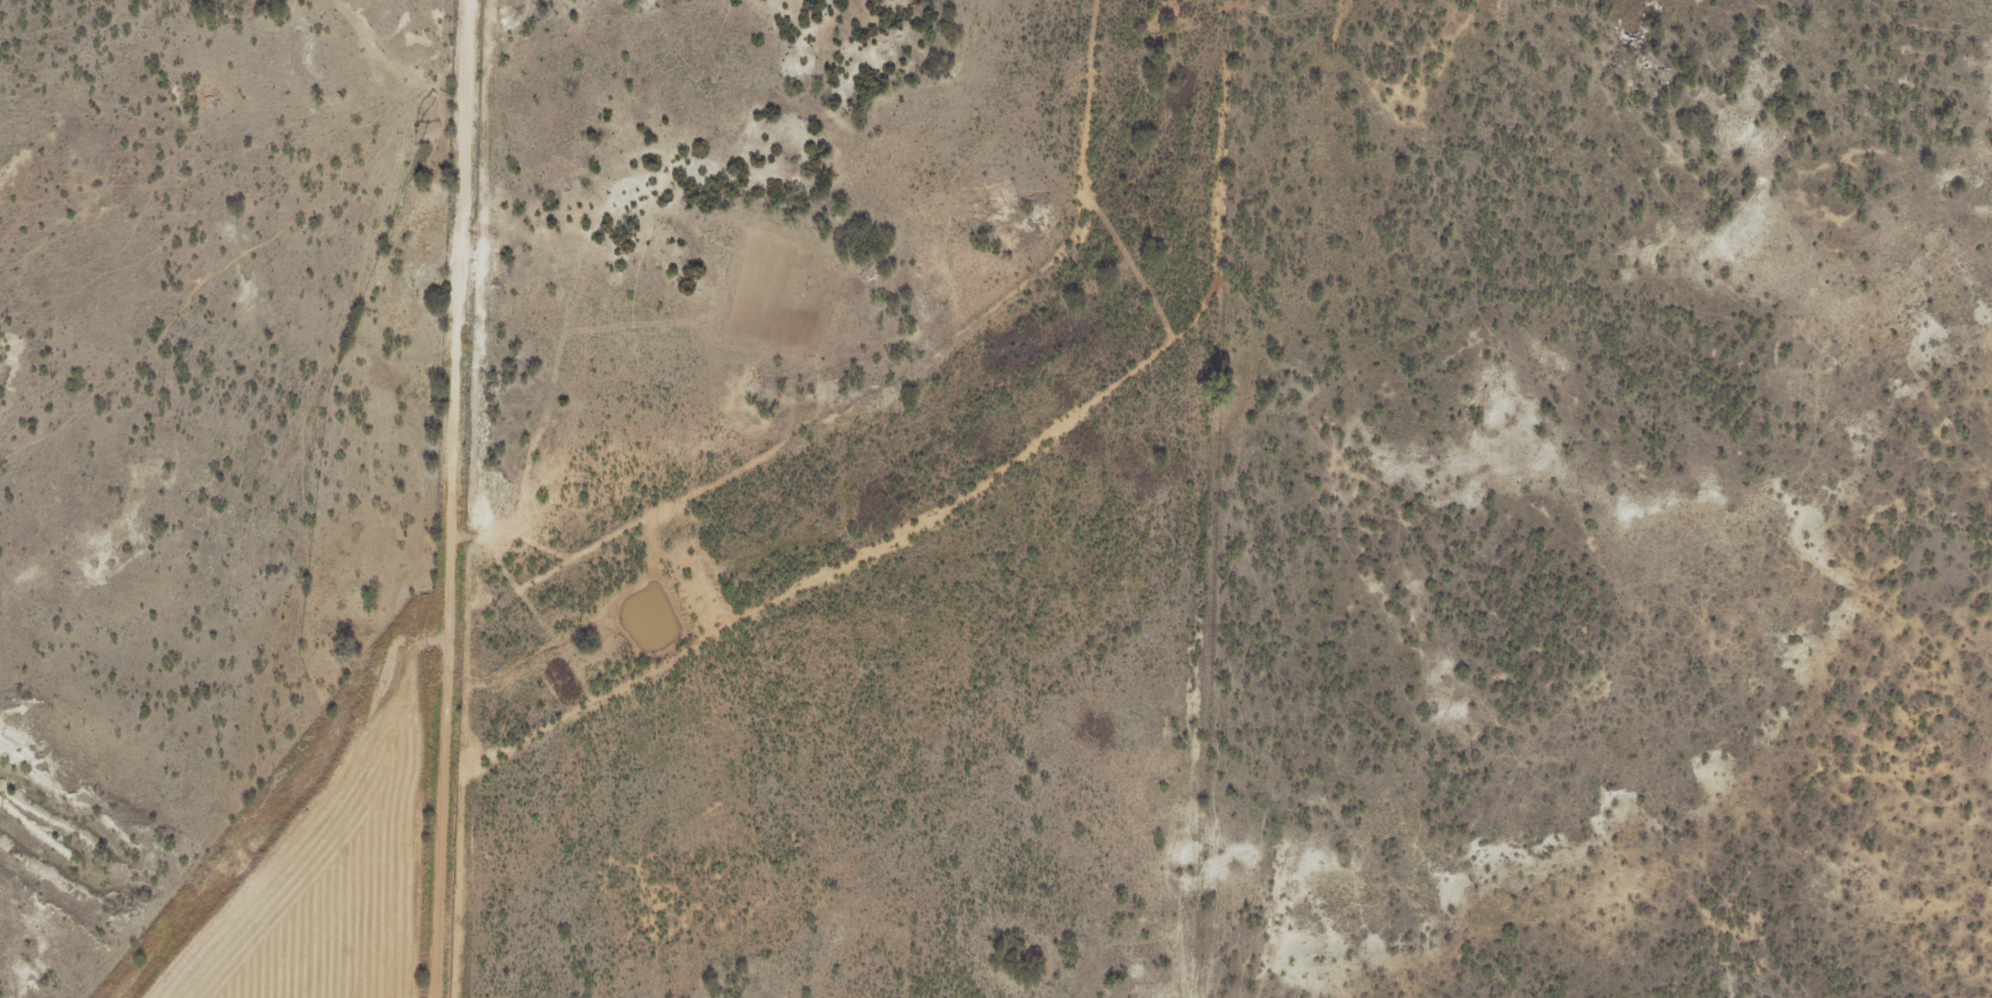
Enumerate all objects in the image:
road: (451, 498)

